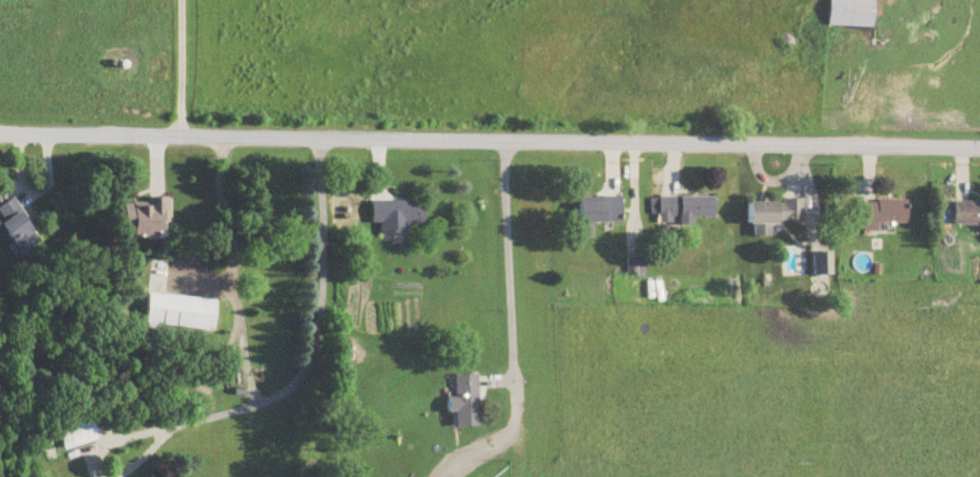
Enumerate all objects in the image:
building: (851, 13)
road: (178, 69)
crop: (431, 70)
road: (815, 73)
road: (489, 141)
building: (683, 210)
building: (601, 212)
building: (885, 213)
building: (967, 214)
building: (396, 216)
building: (773, 216)
building: (146, 218)
building: (18, 226)
road: (509, 259)
building: (822, 265)
building: (635, 267)
road: (229, 273)
building: (180, 312)
road: (314, 334)
crop: (761, 389)
building: (464, 400)
building: (75, 433)
road: (110, 439)
road: (142, 456)

